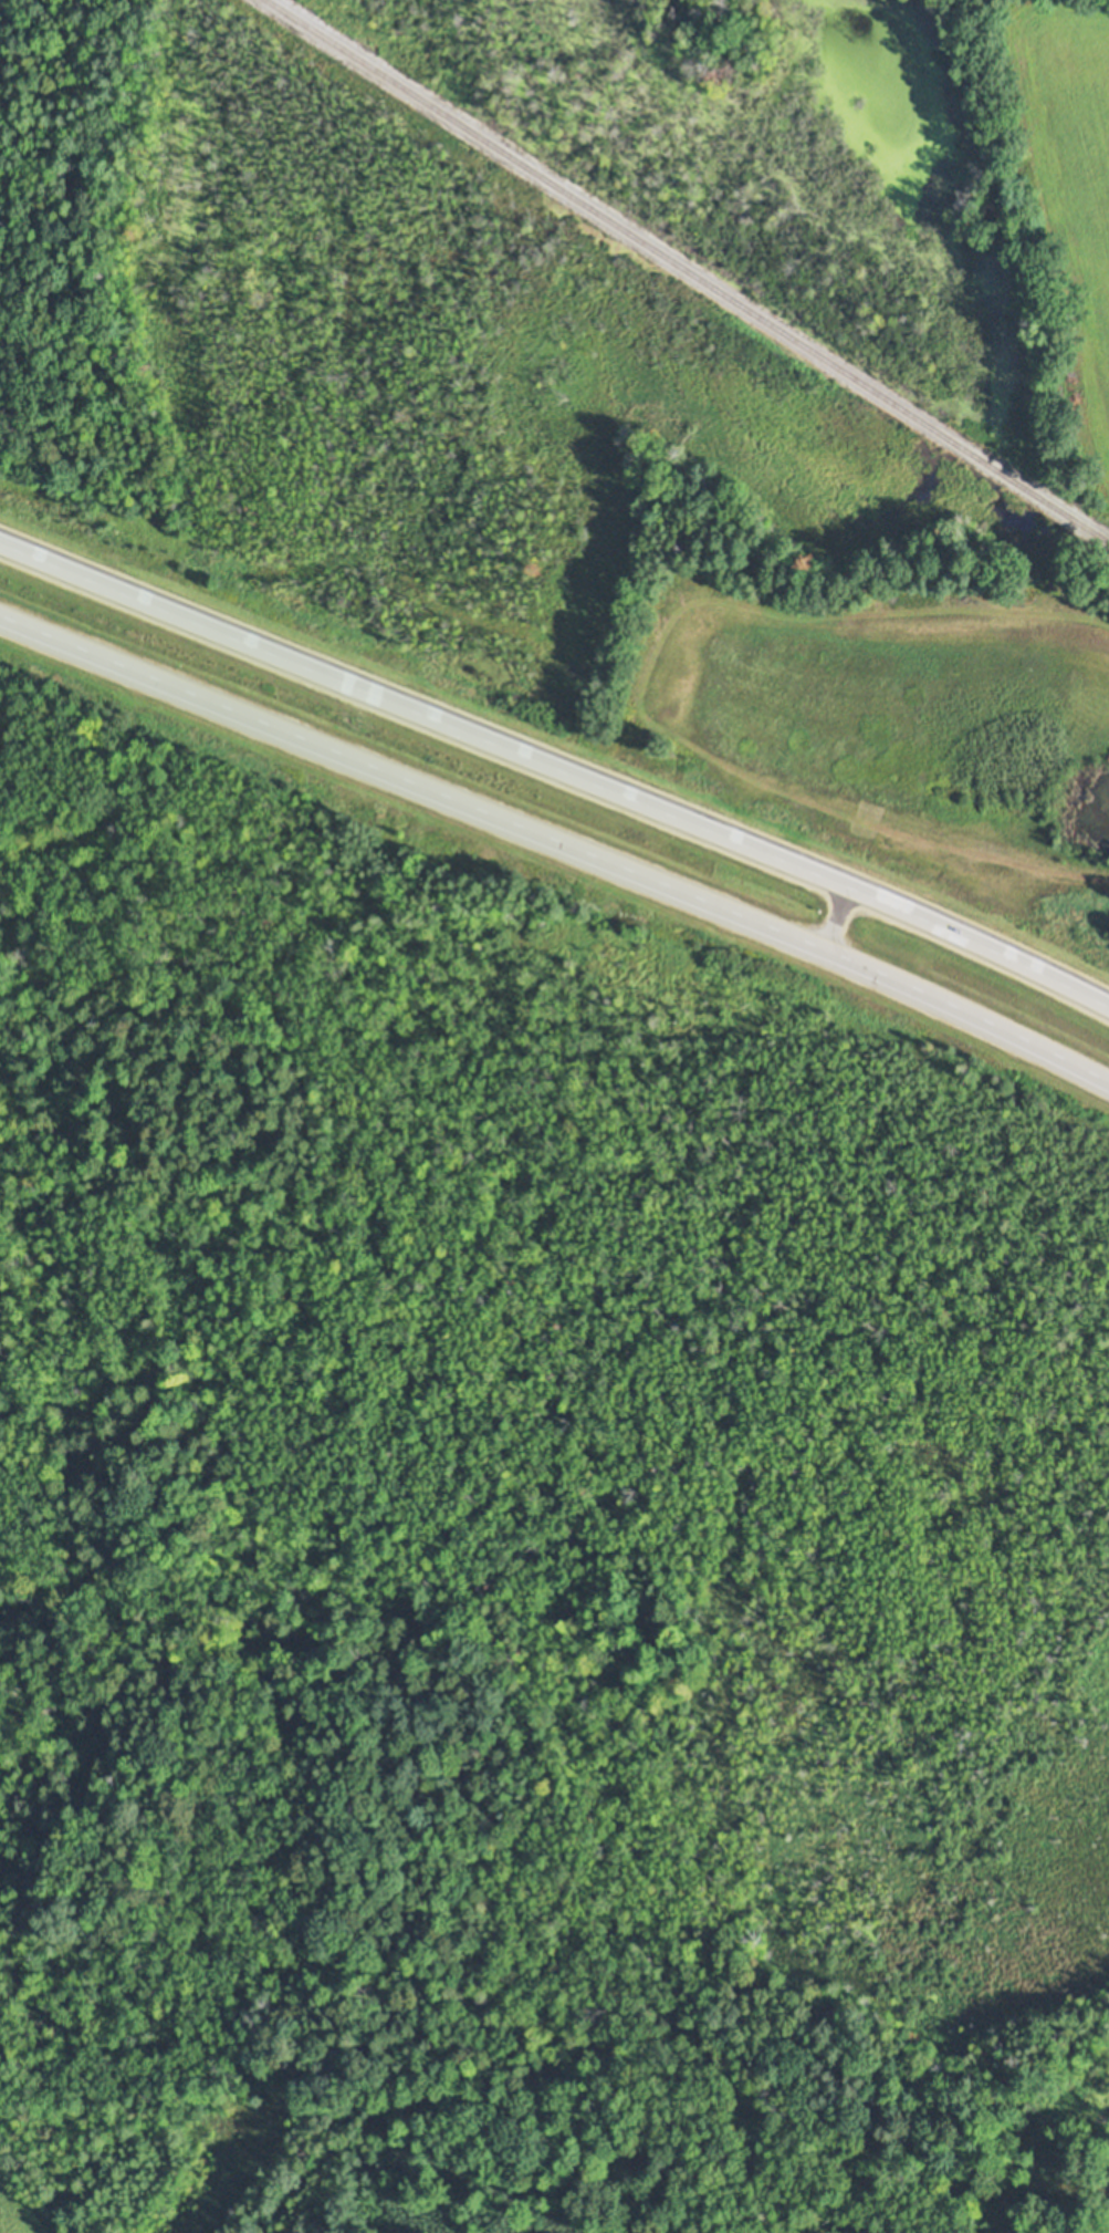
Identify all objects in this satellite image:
railway: (689, 270)
road: (556, 768)
road: (557, 843)

